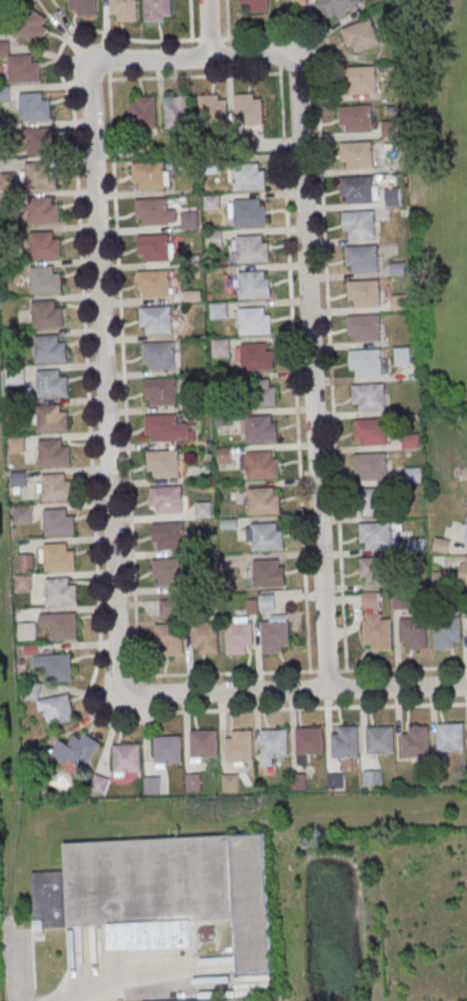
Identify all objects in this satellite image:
building: (292, 0)
building: (301, 2)
building: (257, 5)
building: (85, 6)
building: (339, 7)
building: (125, 9)
building: (157, 9)
road: (190, 20)
building: (35, 26)
road: (208, 28)
building: (361, 34)
road: (155, 40)
road: (280, 60)
road: (110, 65)
building: (24, 67)
road: (195, 75)
building: (361, 78)
building: (34, 105)
building: (249, 109)
building: (213, 110)
building: (180, 111)
building: (143, 112)
building: (357, 117)
building: (390, 128)
building: (39, 141)
building: (358, 153)
building: (149, 173)
building: (41, 175)
building: (249, 176)
building: (357, 188)
building: (393, 195)
building: (212, 203)
building: (43, 209)
building: (153, 210)
building: (250, 212)
building: (190, 220)
building: (359, 222)
building: (215, 238)
building: (44, 244)
building: (155, 246)
building: (253, 248)
building: (363, 257)
building: (398, 268)
building: (44, 279)
road: (324, 280)
building: (154, 282)
building: (255, 284)
building: (365, 292)
building: (399, 301)
building: (47, 313)
building: (157, 318)
road: (104, 319)
building: (255, 320)
building: (364, 327)
road: (310, 330)
building: (50, 348)
building: (221, 348)
building: (159, 354)
building: (402, 355)
building: (257, 356)
building: (366, 361)
road: (294, 367)
building: (51, 383)
building: (162, 390)
building: (259, 392)
building: (369, 395)
building: (52, 417)
building: (162, 426)
building: (261, 429)
building: (371, 431)
building: (411, 440)
building: (17, 445)
building: (53, 452)
building: (164, 462)
building: (262, 464)
building: (372, 464)
building: (57, 486)
building: (167, 498)
building: (375, 499)
building: (264, 500)
building: (205, 510)
building: (24, 515)
building: (58, 522)
building: (465, 530)
building: (169, 534)
building: (376, 534)
road: (131, 536)
building: (267, 536)
building: (59, 556)
building: (26, 561)
building: (377, 569)
building: (463, 569)
building: (169, 570)
building: (269, 572)
building: (24, 583)
building: (61, 591)
building: (400, 601)
building: (60, 626)
building: (447, 630)
building: (414, 632)
building: (378, 633)
building: (275, 635)
building: (206, 636)
building: (239, 636)
building: (169, 638)
building: (56, 666)
road: (295, 690)
building: (51, 703)
road: (298, 708)
building: (451, 736)
building: (310, 739)
building: (380, 739)
building: (417, 741)
building: (275, 742)
building: (346, 742)
building: (204, 743)
building: (240, 746)
building: (169, 748)
building: (78, 751)
building: (128, 757)
building: (372, 778)
building: (194, 782)
building: (231, 782)
building: (154, 786)
building: (162, 892)
road: (121, 980)
building: (214, 1000)

